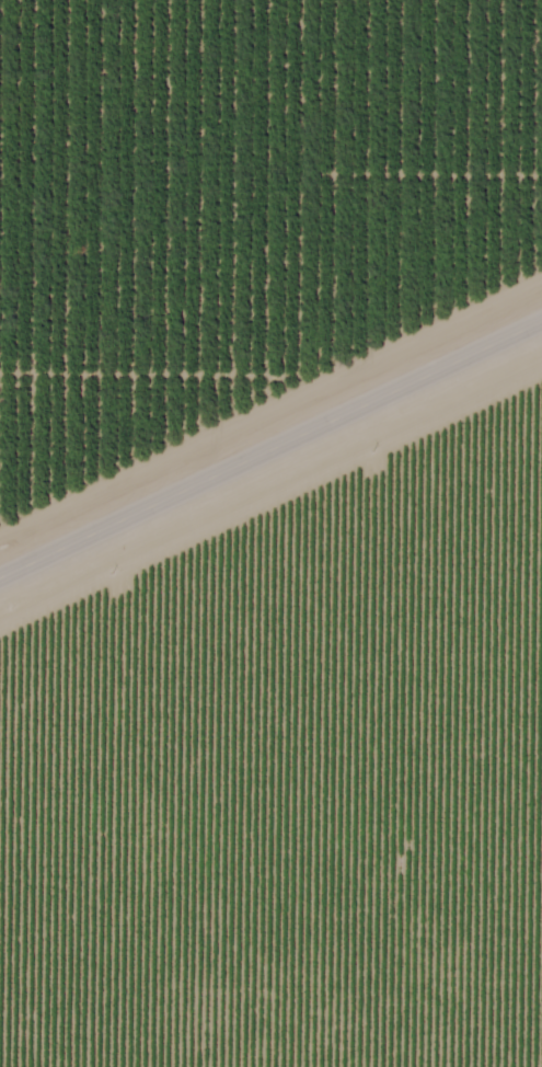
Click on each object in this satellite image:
crop: (261, 172)
crop: (112, 413)
road: (270, 454)

